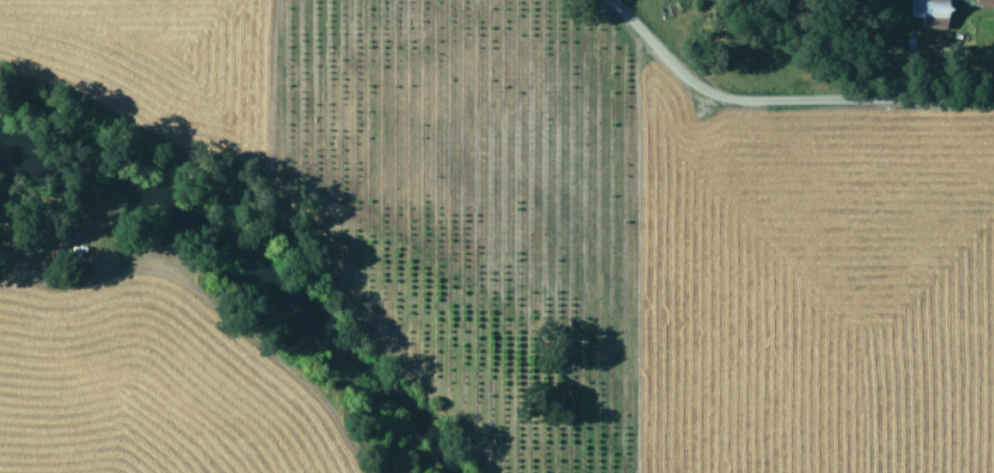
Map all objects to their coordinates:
building: (981, 2)
building: (926, 12)
road: (784, 98)
crop: (143, 384)

